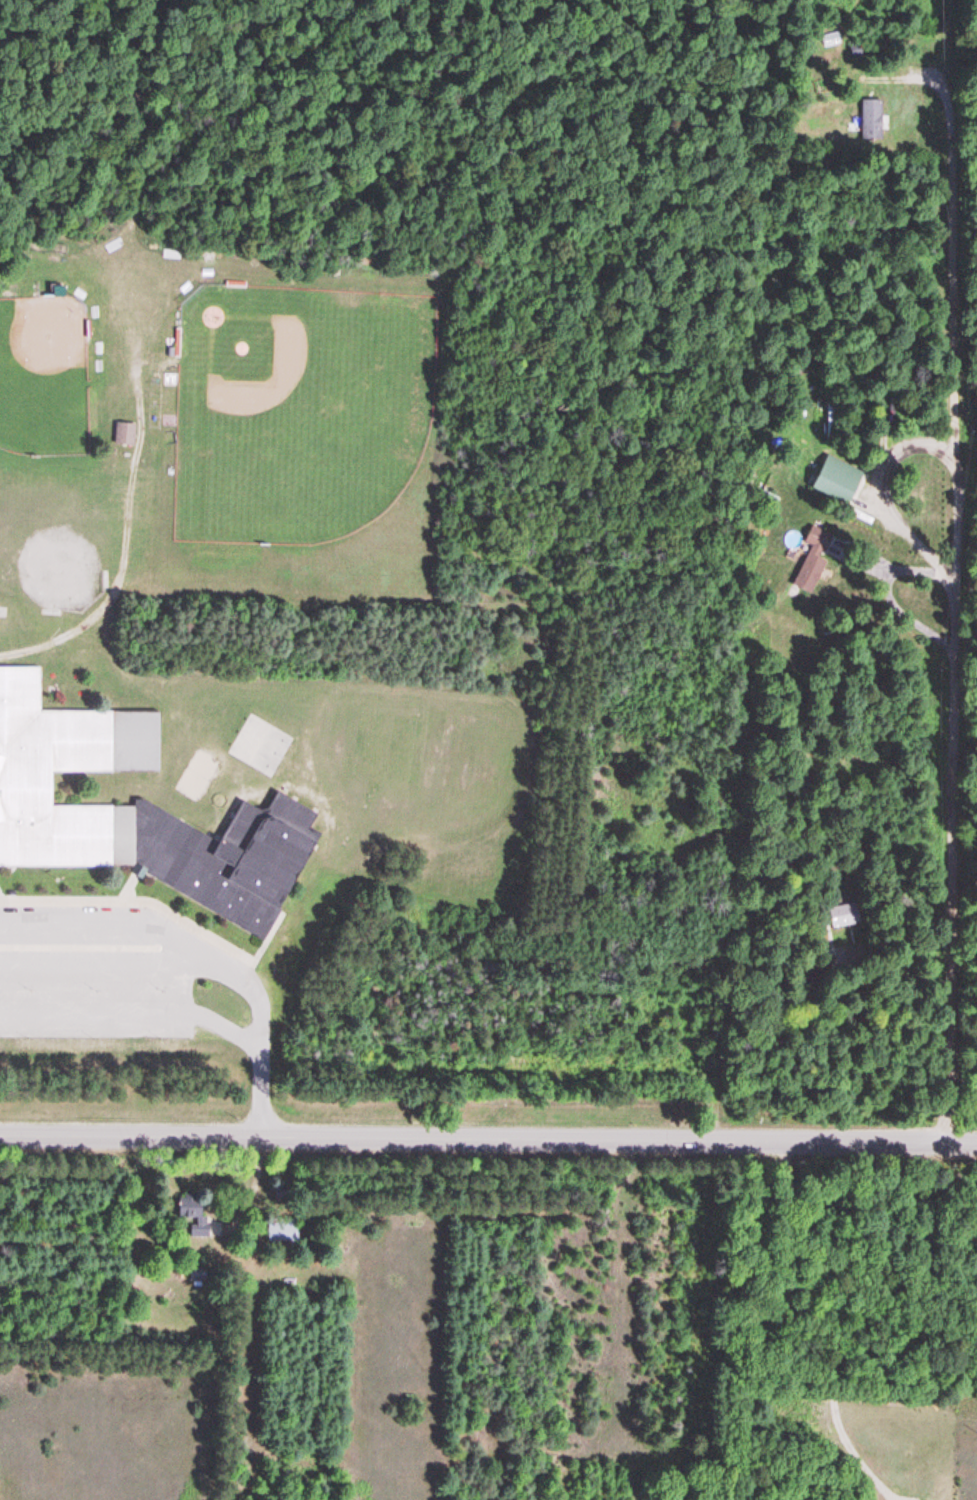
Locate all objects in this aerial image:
road: (948, 103)
park: (44, 372)
park: (296, 409)
building: (125, 434)
road: (954, 661)
park: (258, 743)
park: (194, 774)
building: (138, 811)
road: (128, 886)
road: (156, 906)
road: (95, 957)
road: (198, 961)
parking lot: (93, 993)
road: (134, 1014)
road: (488, 1140)

